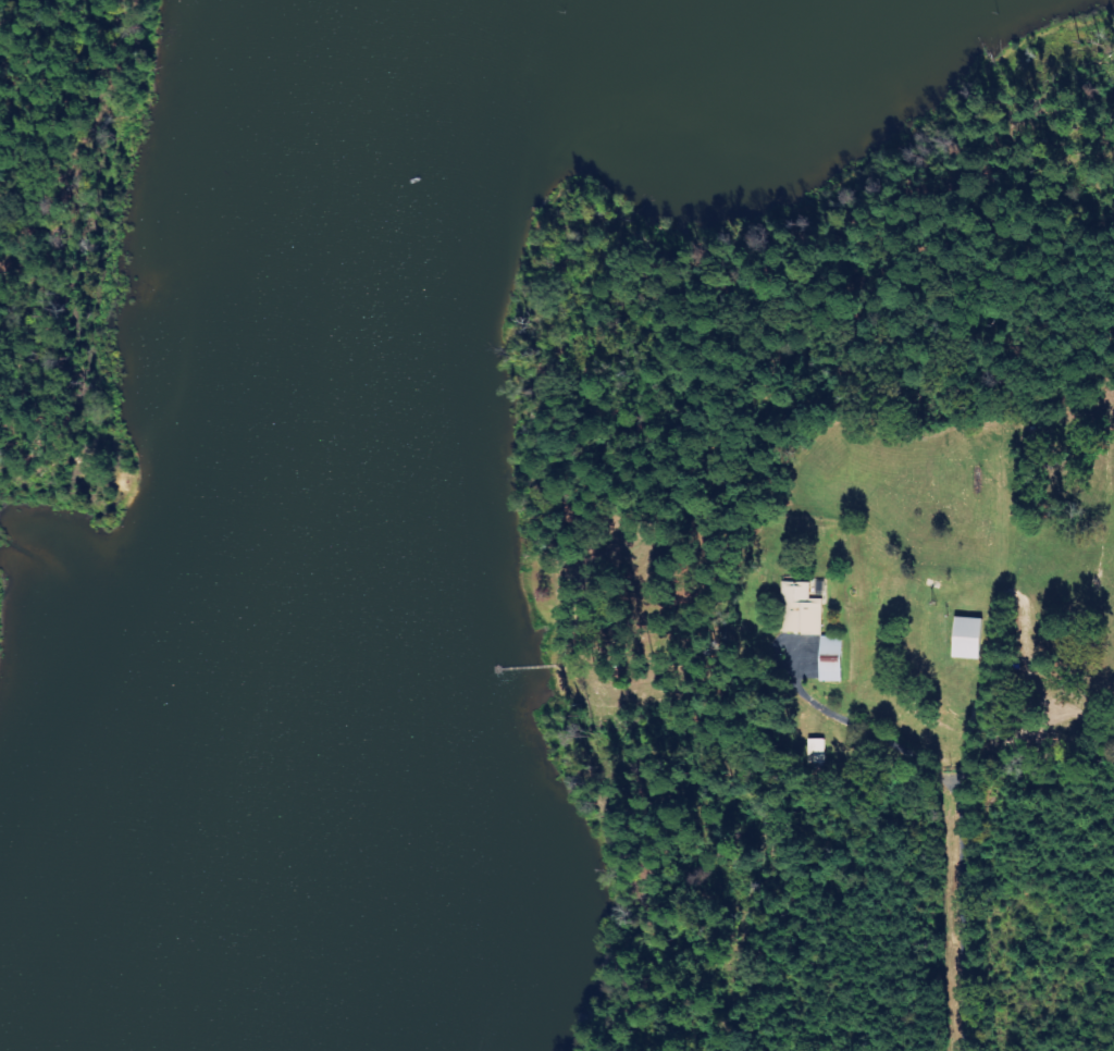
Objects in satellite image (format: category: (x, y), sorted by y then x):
building: (800, 609)
building: (967, 638)
building: (831, 659)
road: (950, 926)

